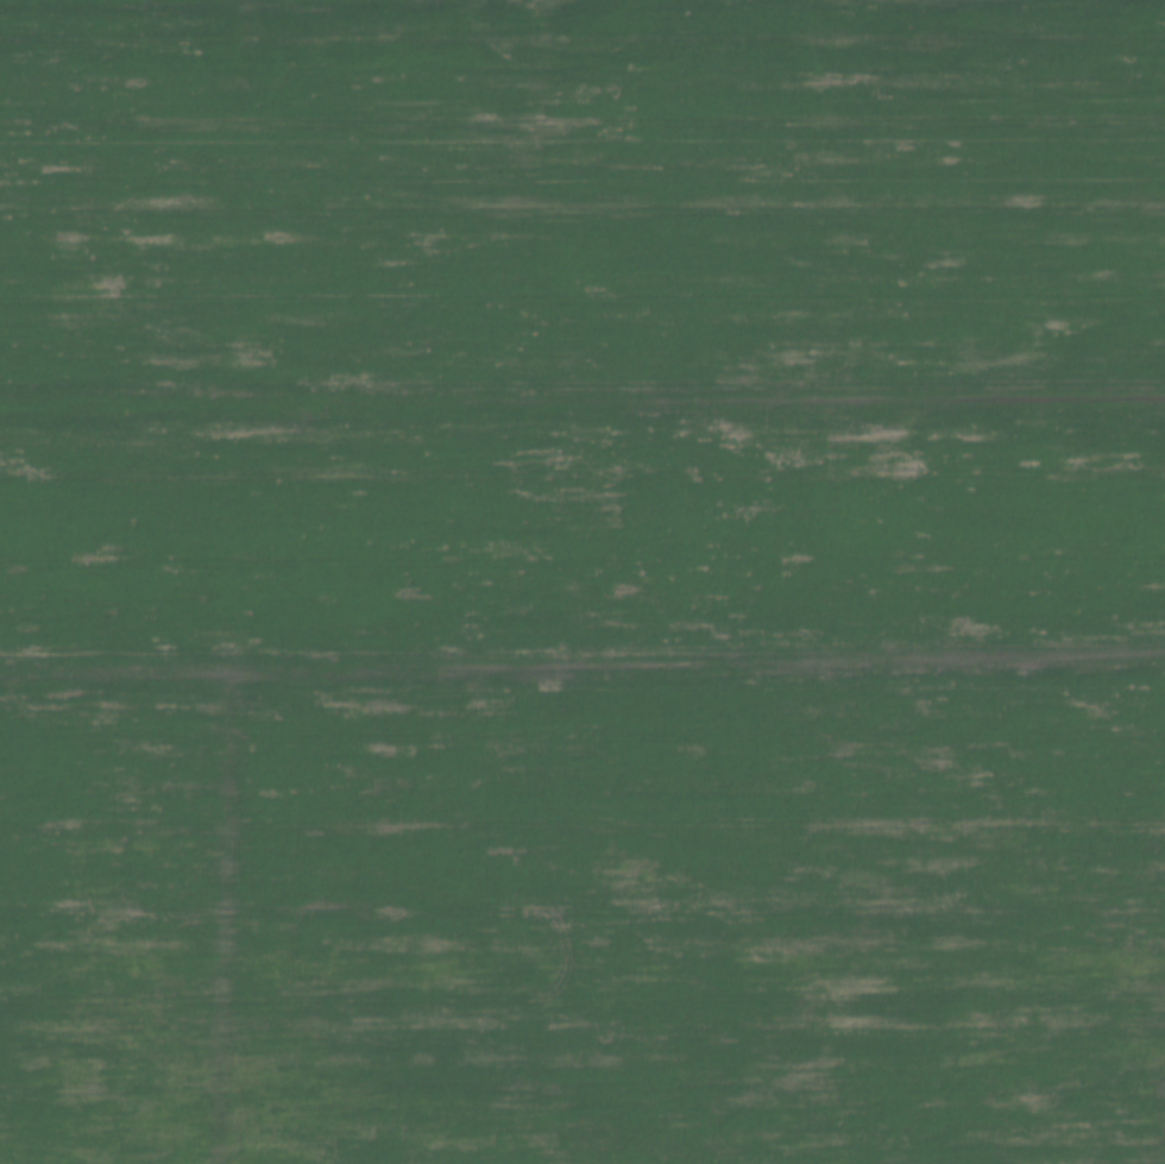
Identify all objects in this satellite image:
crop: (582, 581)

